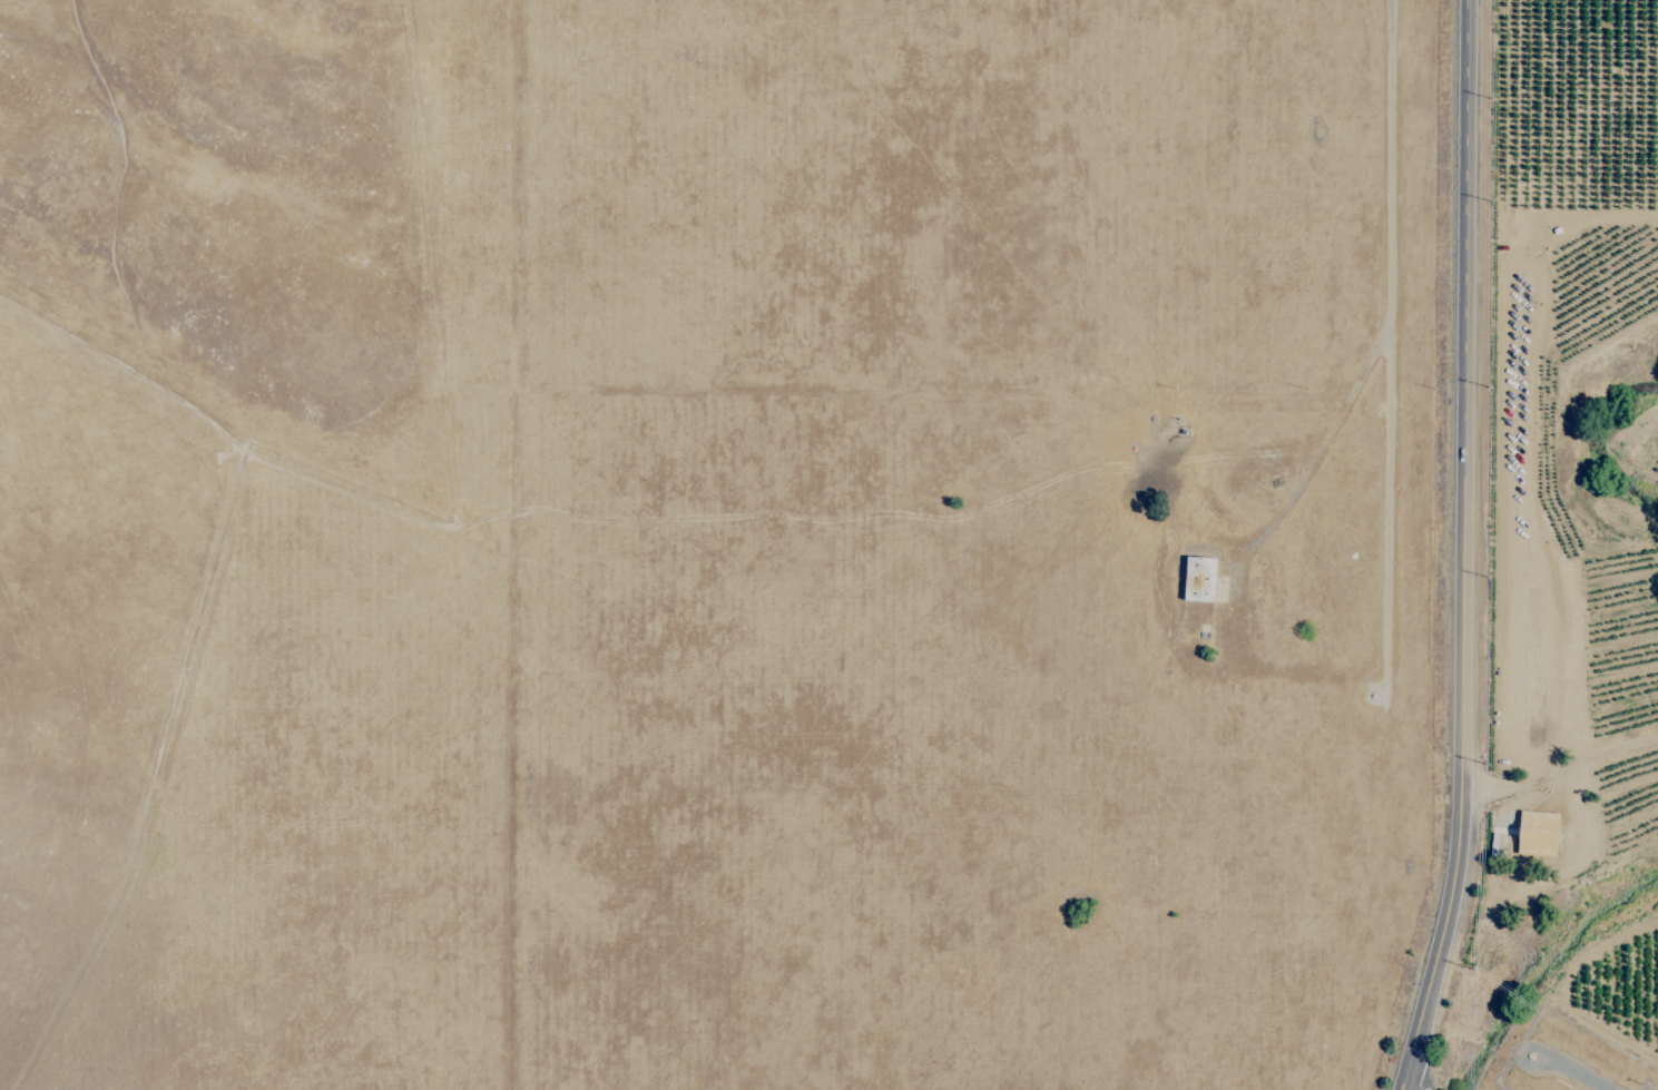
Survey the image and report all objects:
road: (1386, 345)
park: (729, 542)
road: (1465, 549)
crop: (1608, 552)
building: (1198, 579)
road: (186, 644)
road: (1406, 1084)

